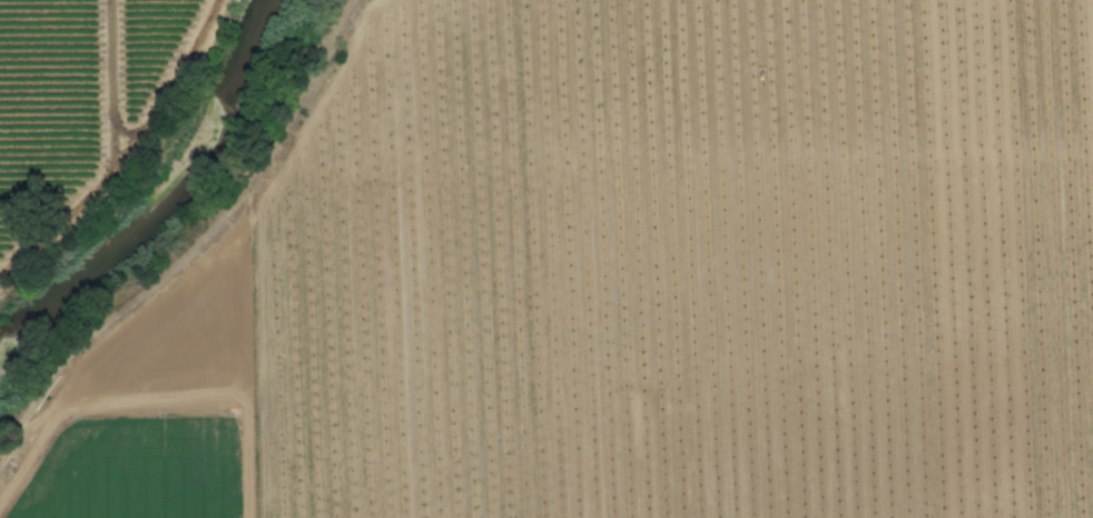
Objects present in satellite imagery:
crop: (73, 93)

